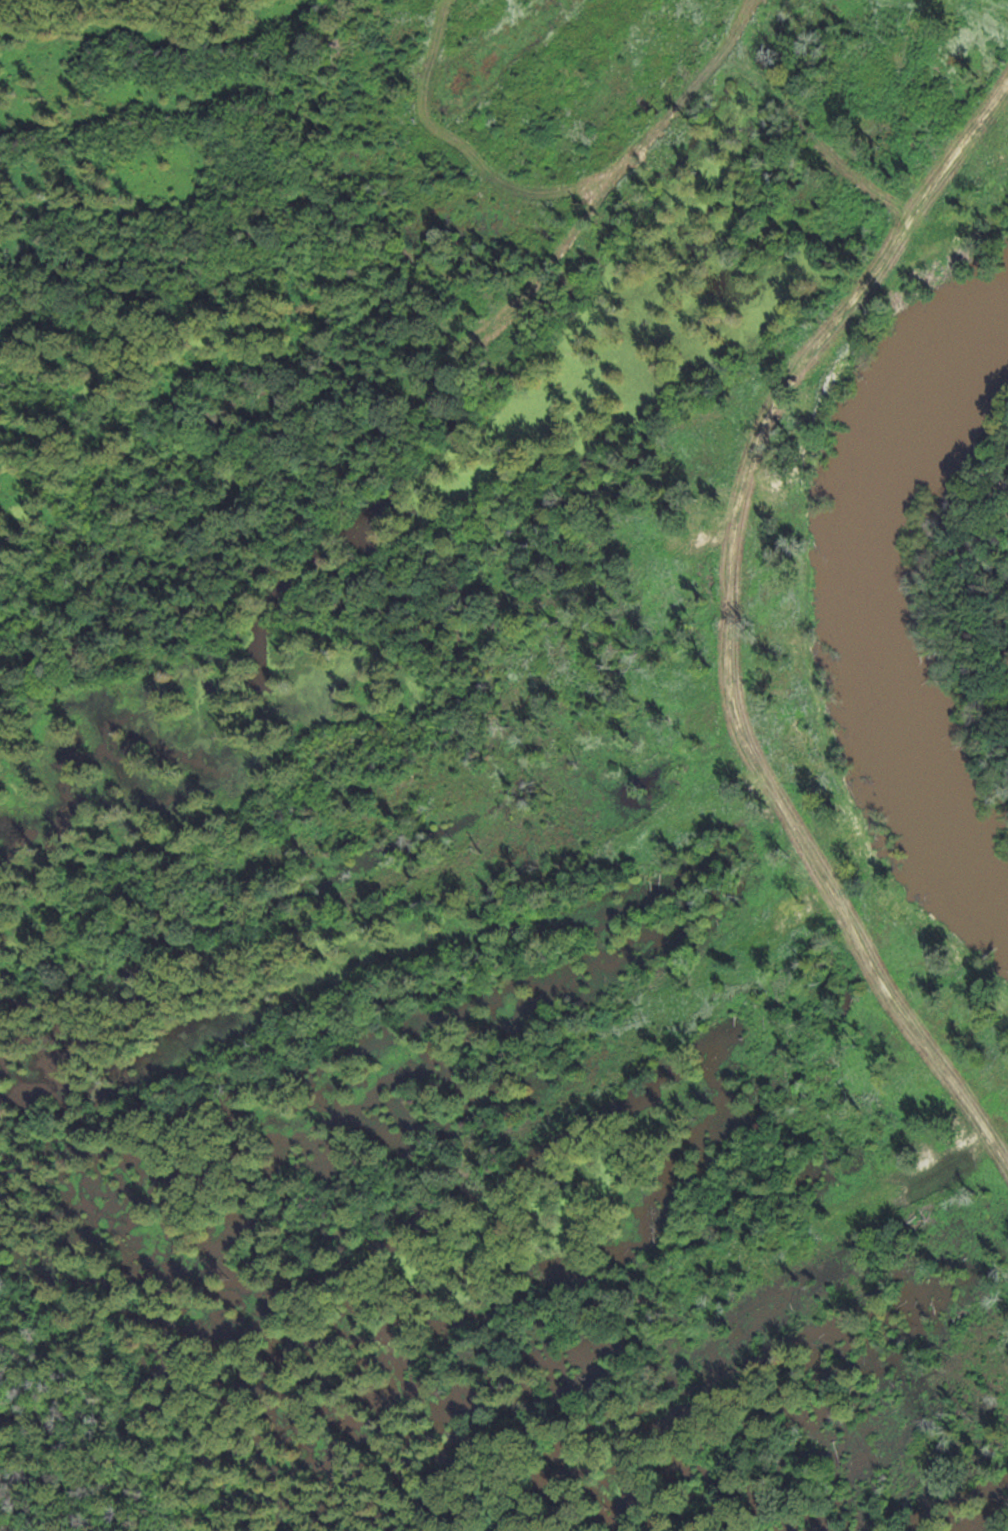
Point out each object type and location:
river: (919, 594)

